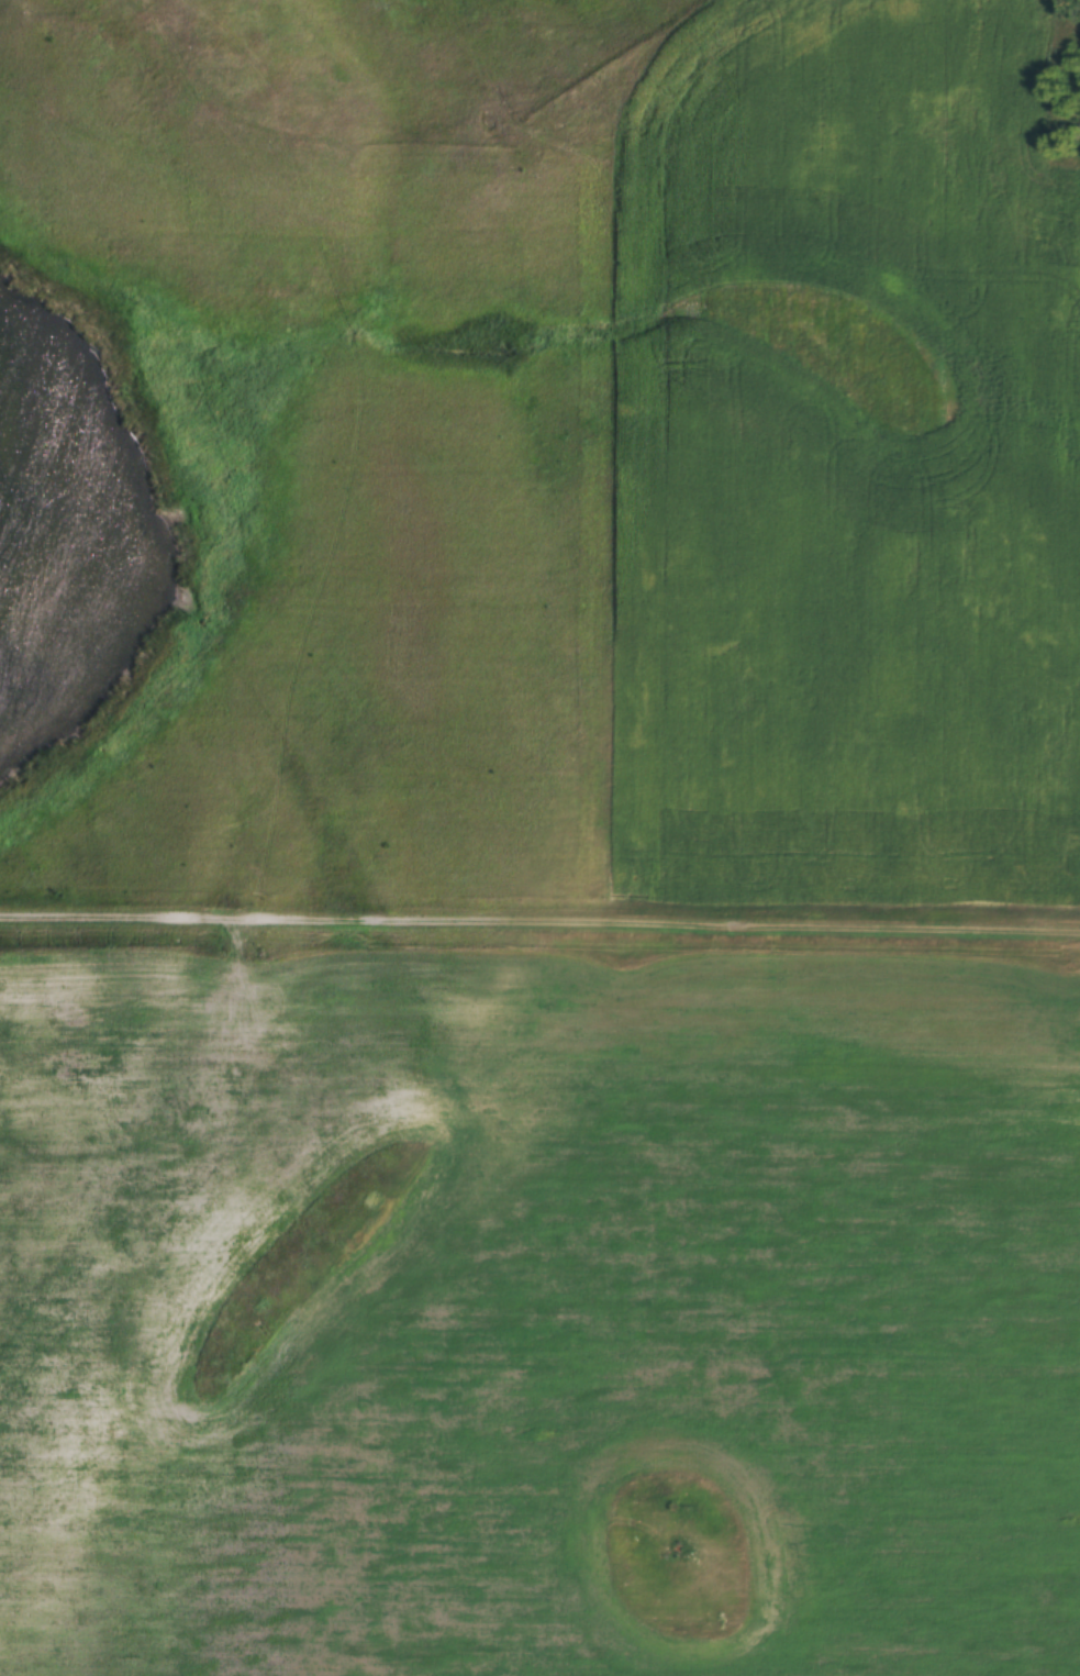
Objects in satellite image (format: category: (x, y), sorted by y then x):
road: (609, 143)
road: (539, 912)
power tower: (269, 955)
power tower: (637, 958)
power tower: (1075, 962)

